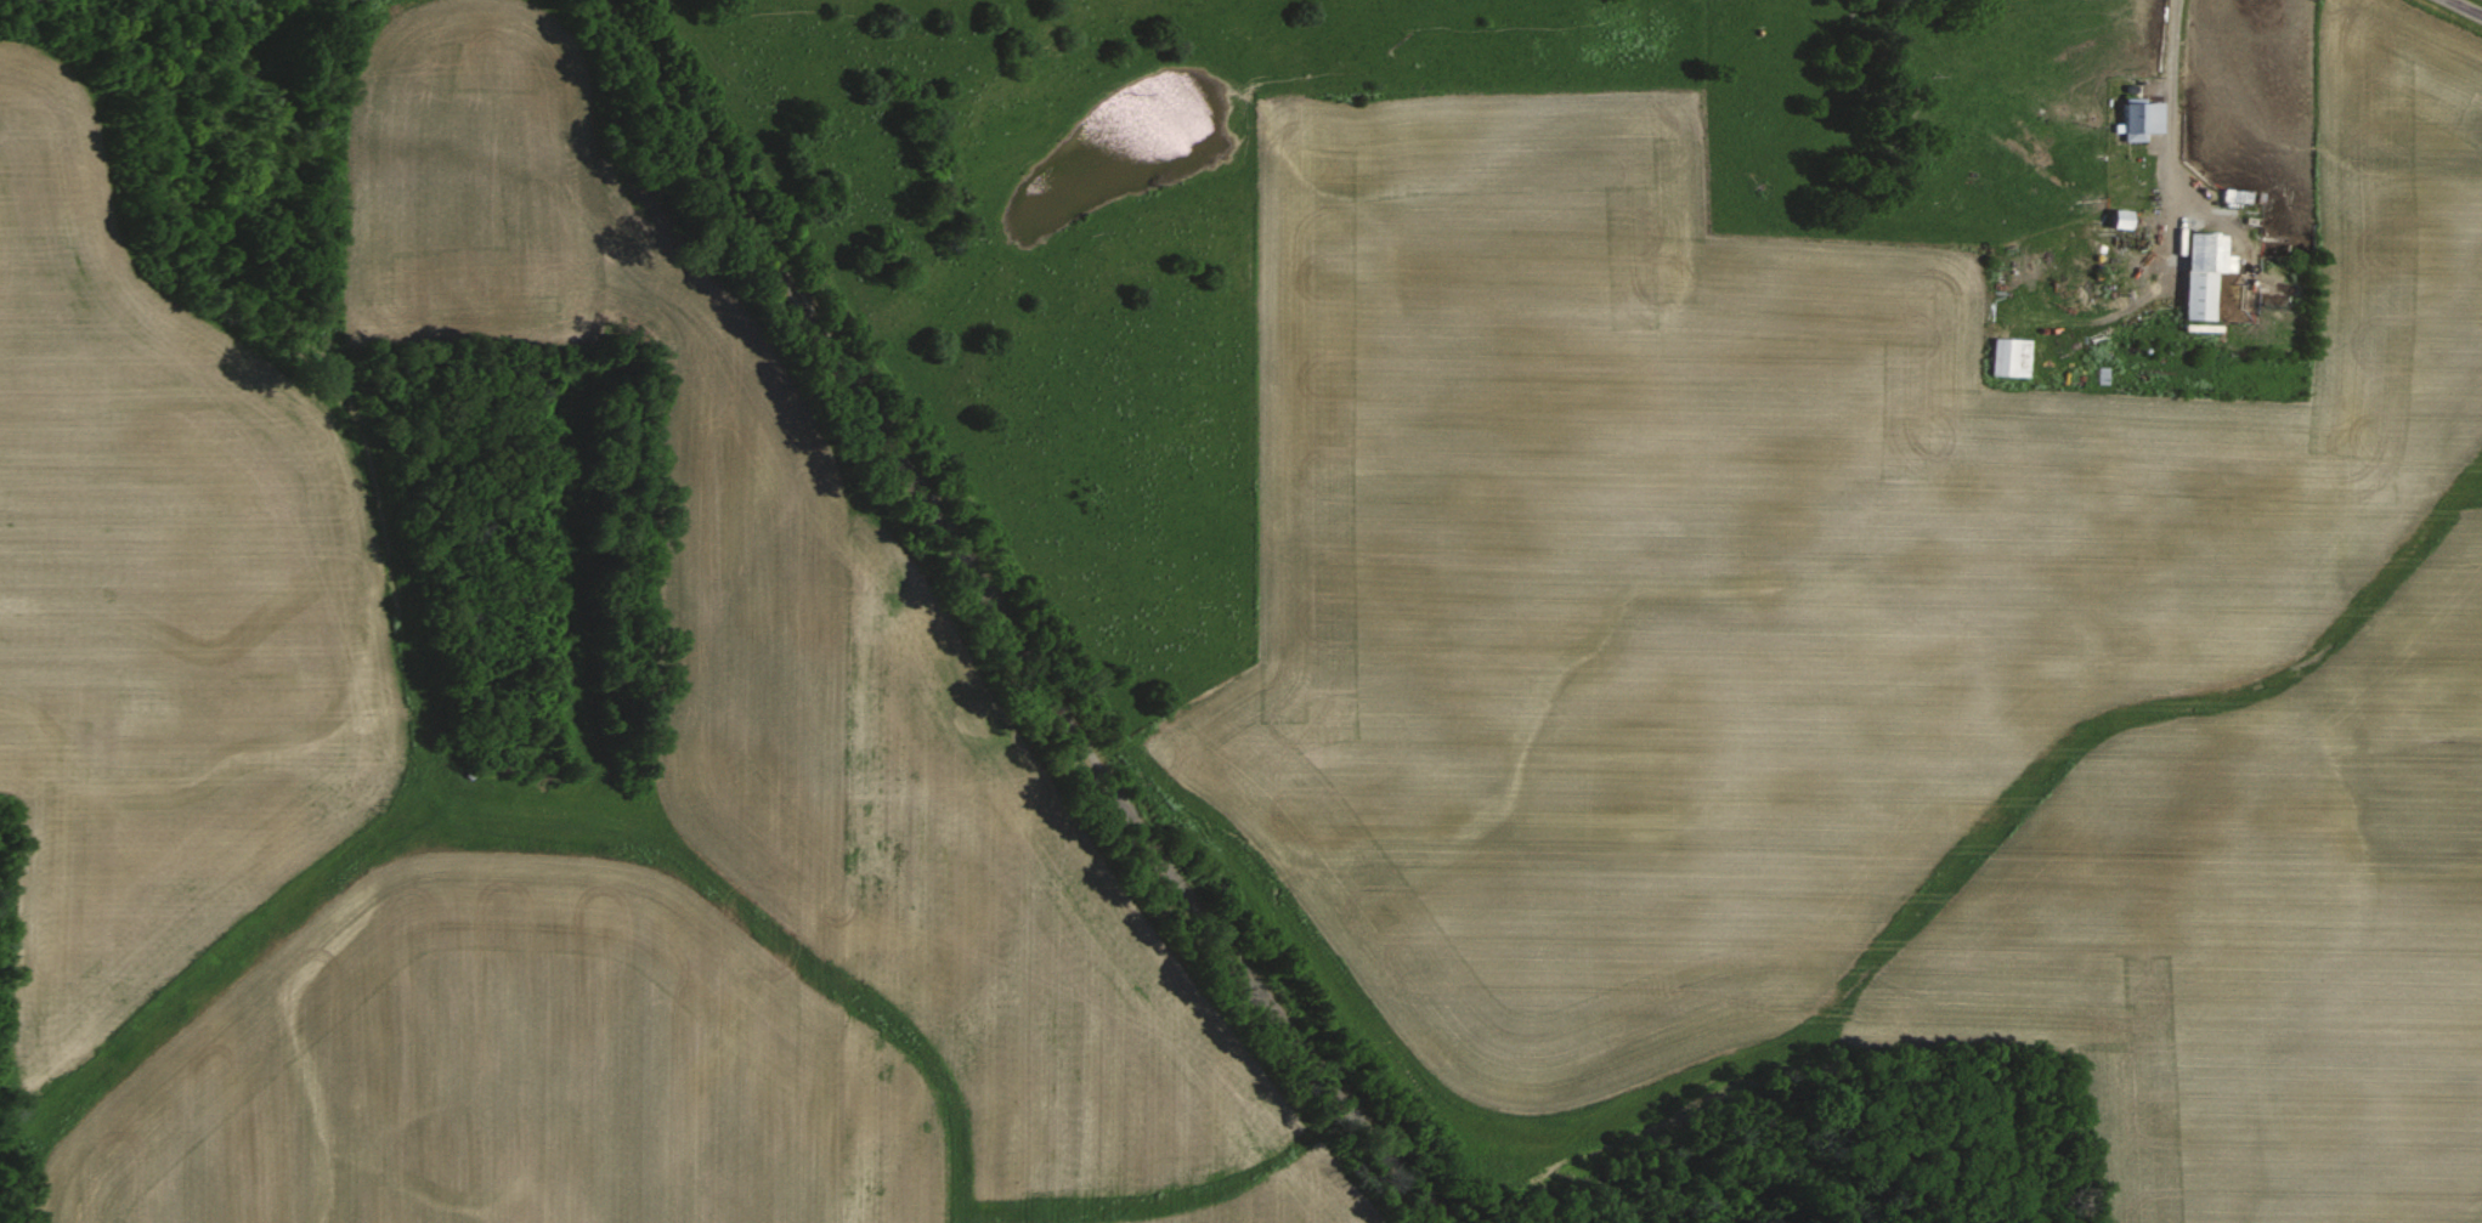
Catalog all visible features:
road: (2470, 5)
building: (2132, 114)
building: (2245, 196)
road: (2164, 202)
building: (2113, 214)
building: (2126, 219)
building: (2193, 270)
building: (2003, 352)
road: (1003, 624)

